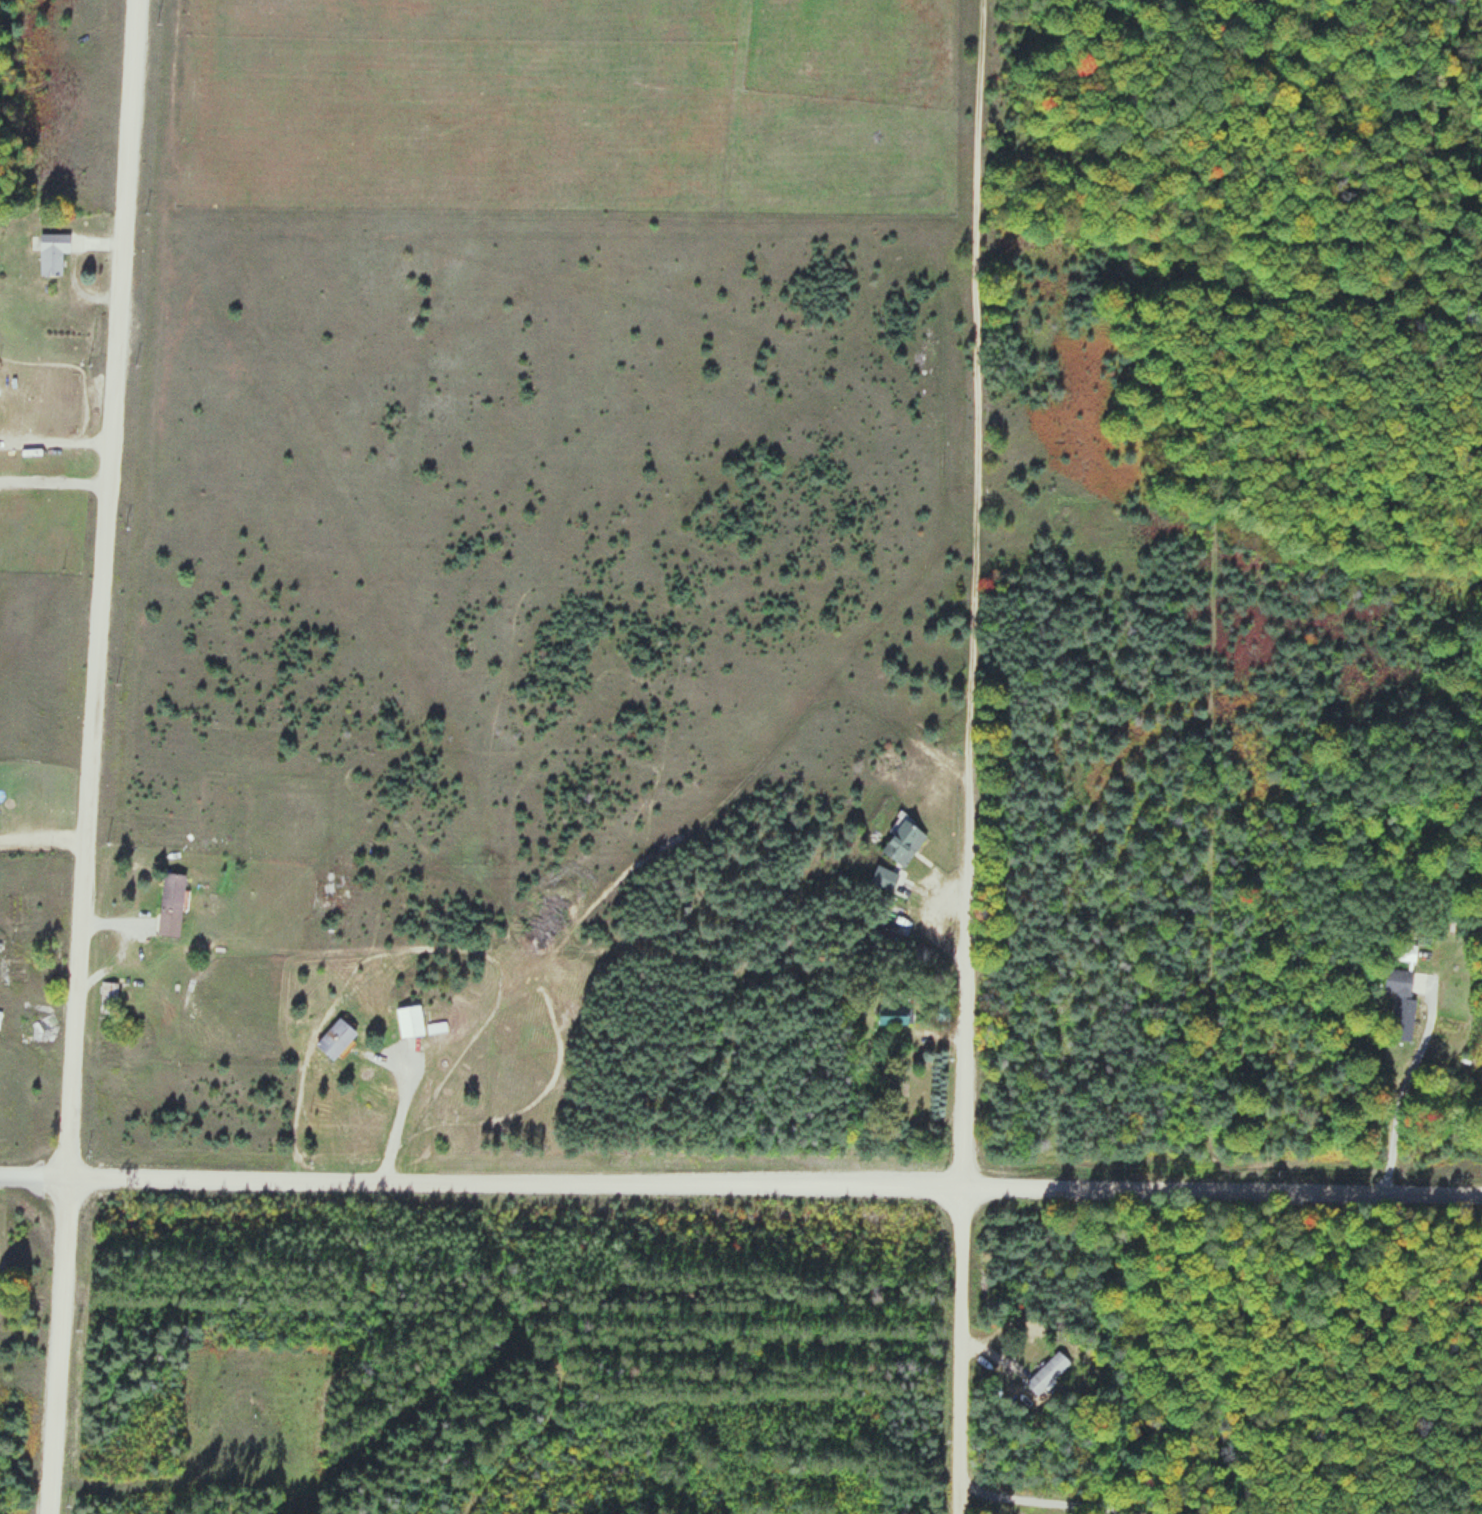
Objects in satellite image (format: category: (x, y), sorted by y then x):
building: (52, 253)
road: (974, 387)
road: (92, 756)
building: (903, 843)
building: (171, 905)
building: (897, 924)
building: (108, 997)
building: (1404, 1000)
building: (940, 1012)
building: (894, 1015)
building: (410, 1020)
building: (42, 1031)
building: (336, 1038)
road: (961, 1144)
road: (740, 1185)
building: (1046, 1373)

